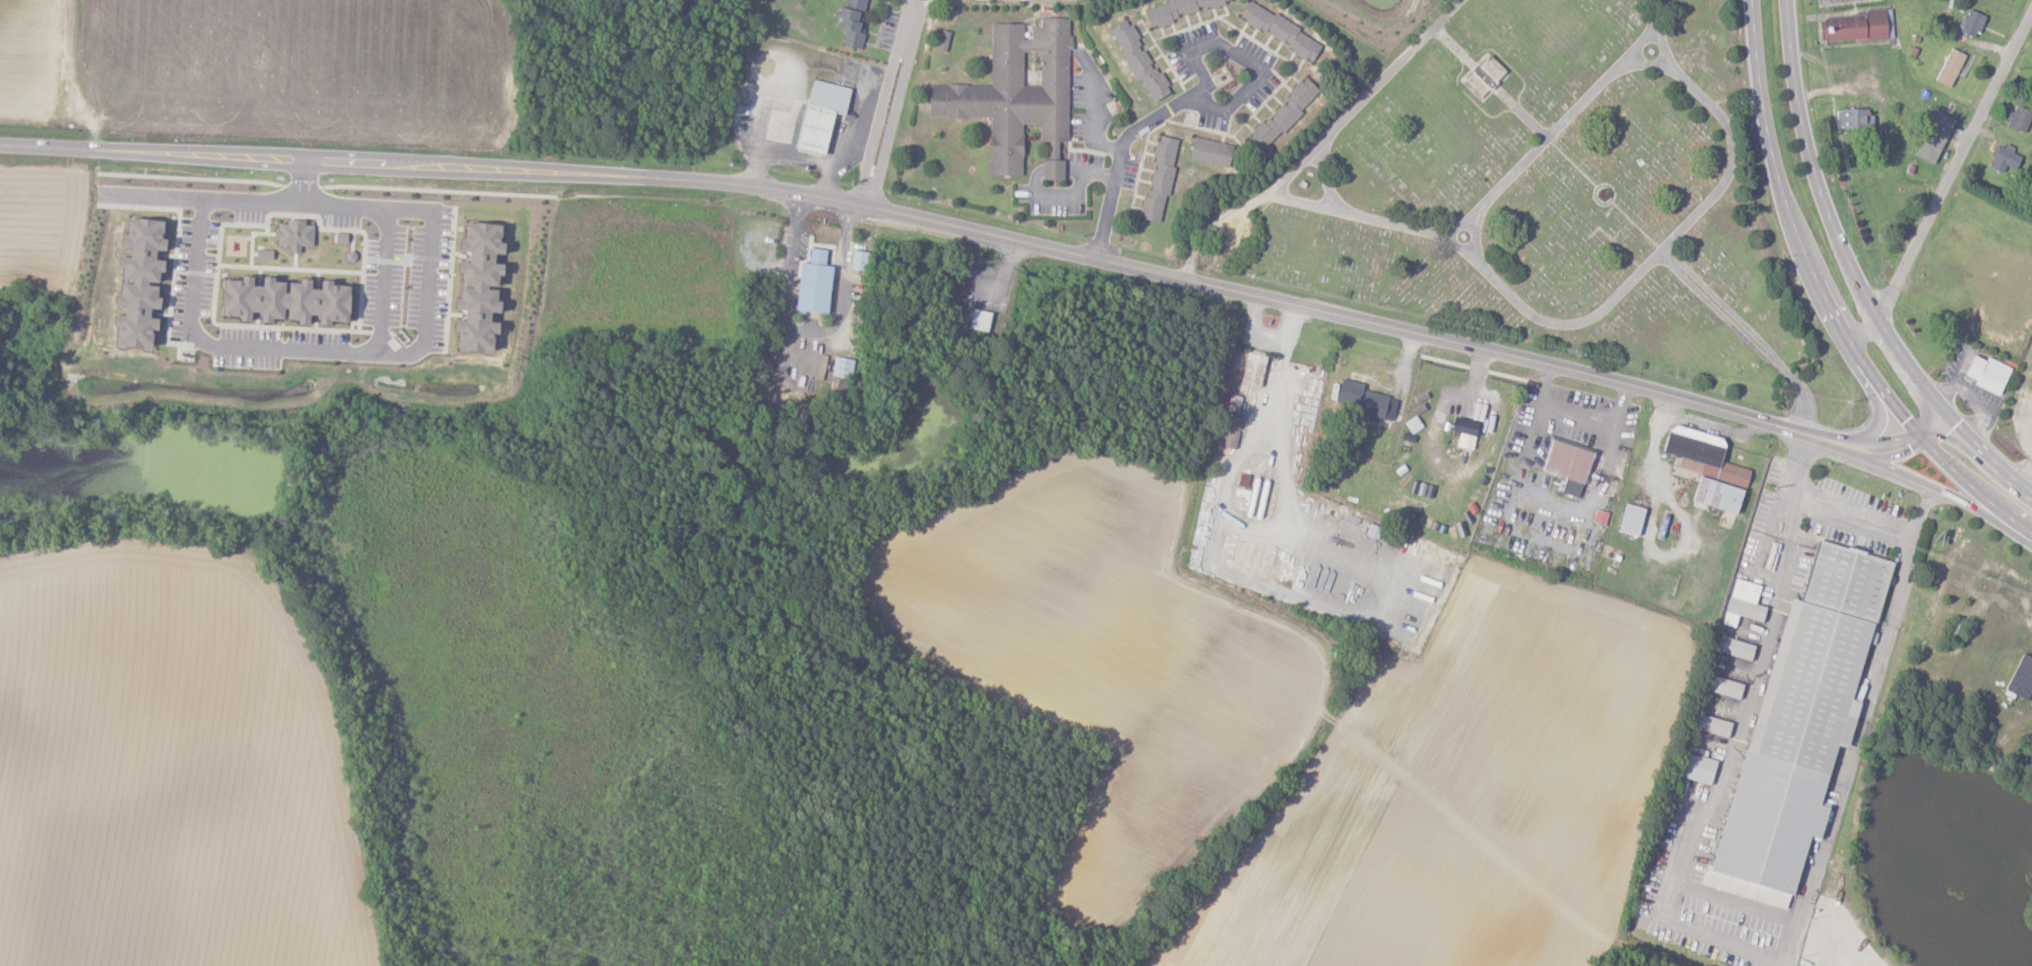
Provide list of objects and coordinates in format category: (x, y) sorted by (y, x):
building: (1177, 9)
building: (851, 23)
building: (1972, 23)
building: (1853, 26)
building: (1280, 30)
building: (943, 41)
building: (1139, 61)
building: (1950, 67)
building: (1484, 76)
building: (1017, 95)
road: (888, 103)
road: (1203, 103)
building: (820, 115)
building: (1283, 115)
building: (1854, 119)
building: (2018, 119)
road: (1093, 122)
building: (1935, 138)
building: (1210, 152)
building: (2004, 158)
road: (354, 160)
road: (1036, 174)
building: (1159, 179)
road: (1945, 182)
road: (226, 198)
park: (1543, 198)
road: (344, 204)
building: (293, 235)
building: (858, 260)
road: (1855, 271)
building: (138, 283)
building: (813, 284)
building: (477, 287)
road: (1272, 298)
building: (283, 301)
road: (1825, 301)
building: (979, 321)
road: (808, 333)
road: (400, 354)
building: (842, 367)
building: (1253, 370)
building: (1988, 374)
building: (840, 390)
road: (1881, 401)
building: (1366, 402)
road: (1575, 416)
road: (1932, 418)
traffic signals: (1906, 419)
road: (1937, 424)
traffic signals: (1965, 424)
building: (1230, 432)
building: (1464, 433)
road: (1872, 436)
traffic signals: (1917, 446)
building: (1703, 456)
road: (1877, 459)
building: (1568, 467)
building: (1717, 496)
road: (1956, 497)
road: (1841, 517)
building: (1631, 520)
road: (1793, 520)
road: (1903, 584)
building: (1744, 603)
building: (1734, 648)
building: (2021, 677)
building: (1724, 686)
building: (1712, 724)
building: (1800, 725)
building: (1698, 767)
road: (1841, 795)
road: (1715, 798)

